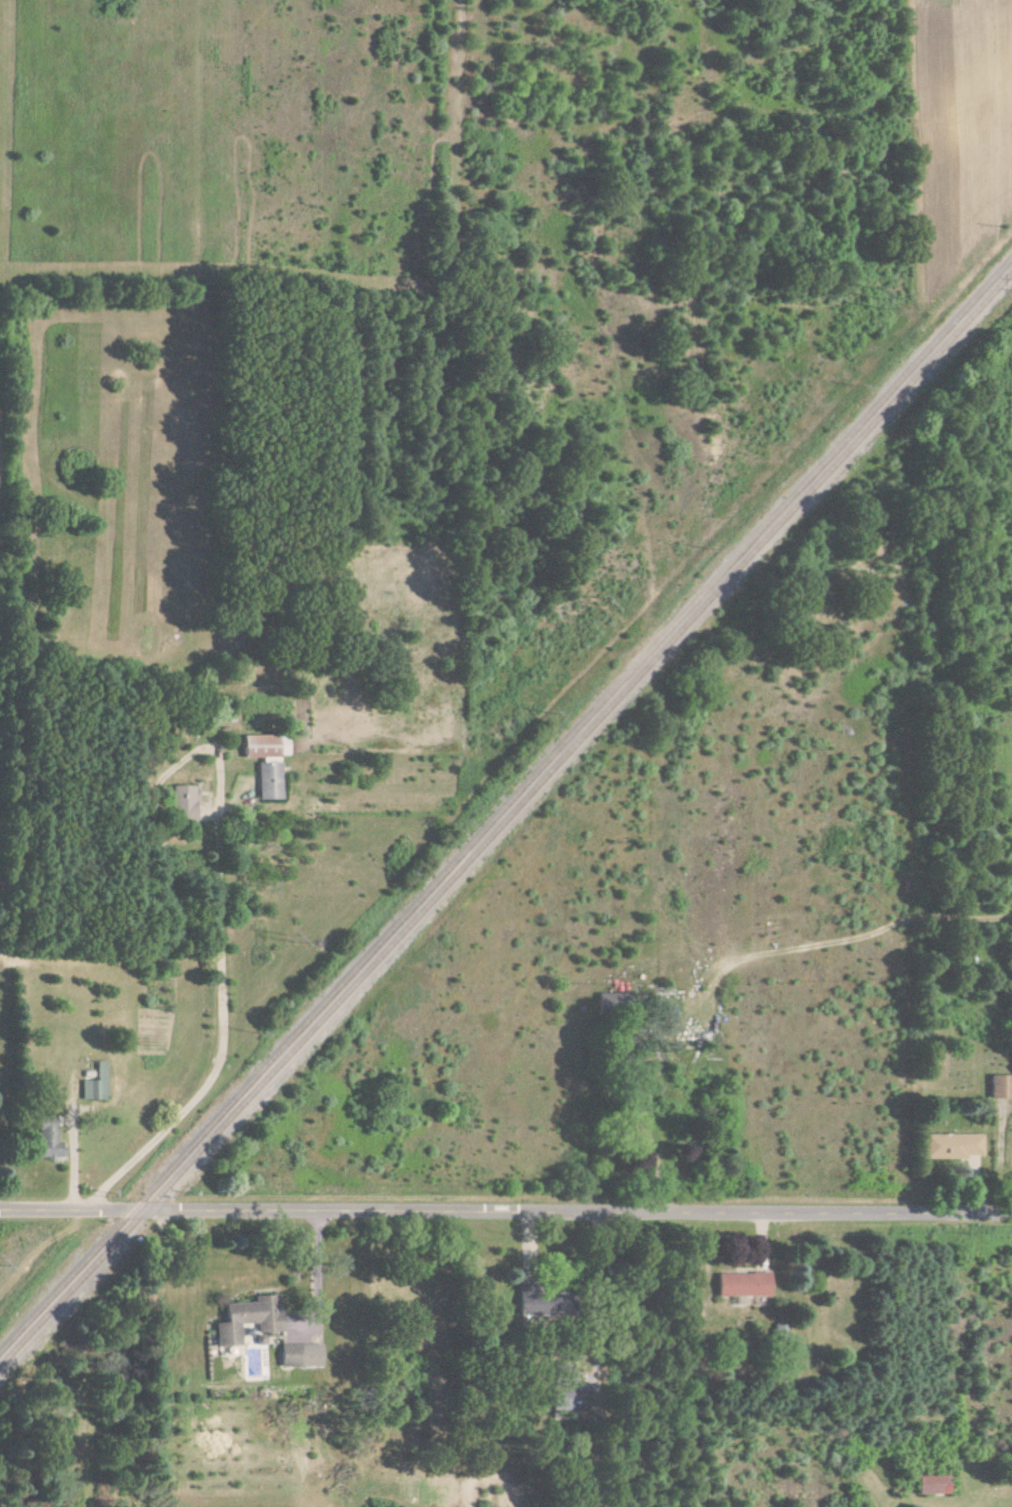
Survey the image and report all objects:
power tower: (879, 302)
power tower: (607, 601)
building: (266, 762)
building: (180, 804)
railway: (505, 804)
railway: (505, 818)
power tower: (309, 939)
road: (221, 964)
building: (606, 1002)
building: (94, 1084)
building: (1000, 1087)
building: (45, 1139)
building: (951, 1146)
road: (505, 1212)
power tower: (23, 1255)
road: (316, 1274)
building: (740, 1285)
building: (538, 1303)
building: (245, 1319)
building: (298, 1356)
building: (560, 1388)
building: (930, 1485)
building: (908, 1506)

